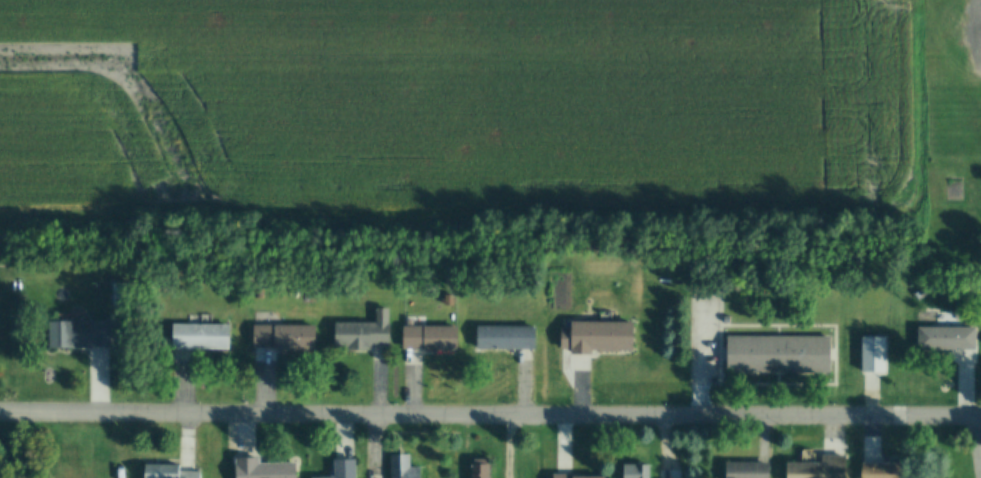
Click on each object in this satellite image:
building: (121, 294)
building: (364, 333)
building: (79, 334)
building: (201, 337)
building: (598, 337)
building: (286, 338)
building: (432, 338)
building: (507, 338)
building: (947, 338)
building: (778, 355)
building: (875, 355)
road: (490, 416)
building: (404, 467)
building: (820, 468)
building: (346, 469)
building: (481, 469)
building: (265, 470)
building: (893, 470)
building: (638, 471)
building: (749, 471)
building: (167, 472)
building: (568, 476)

